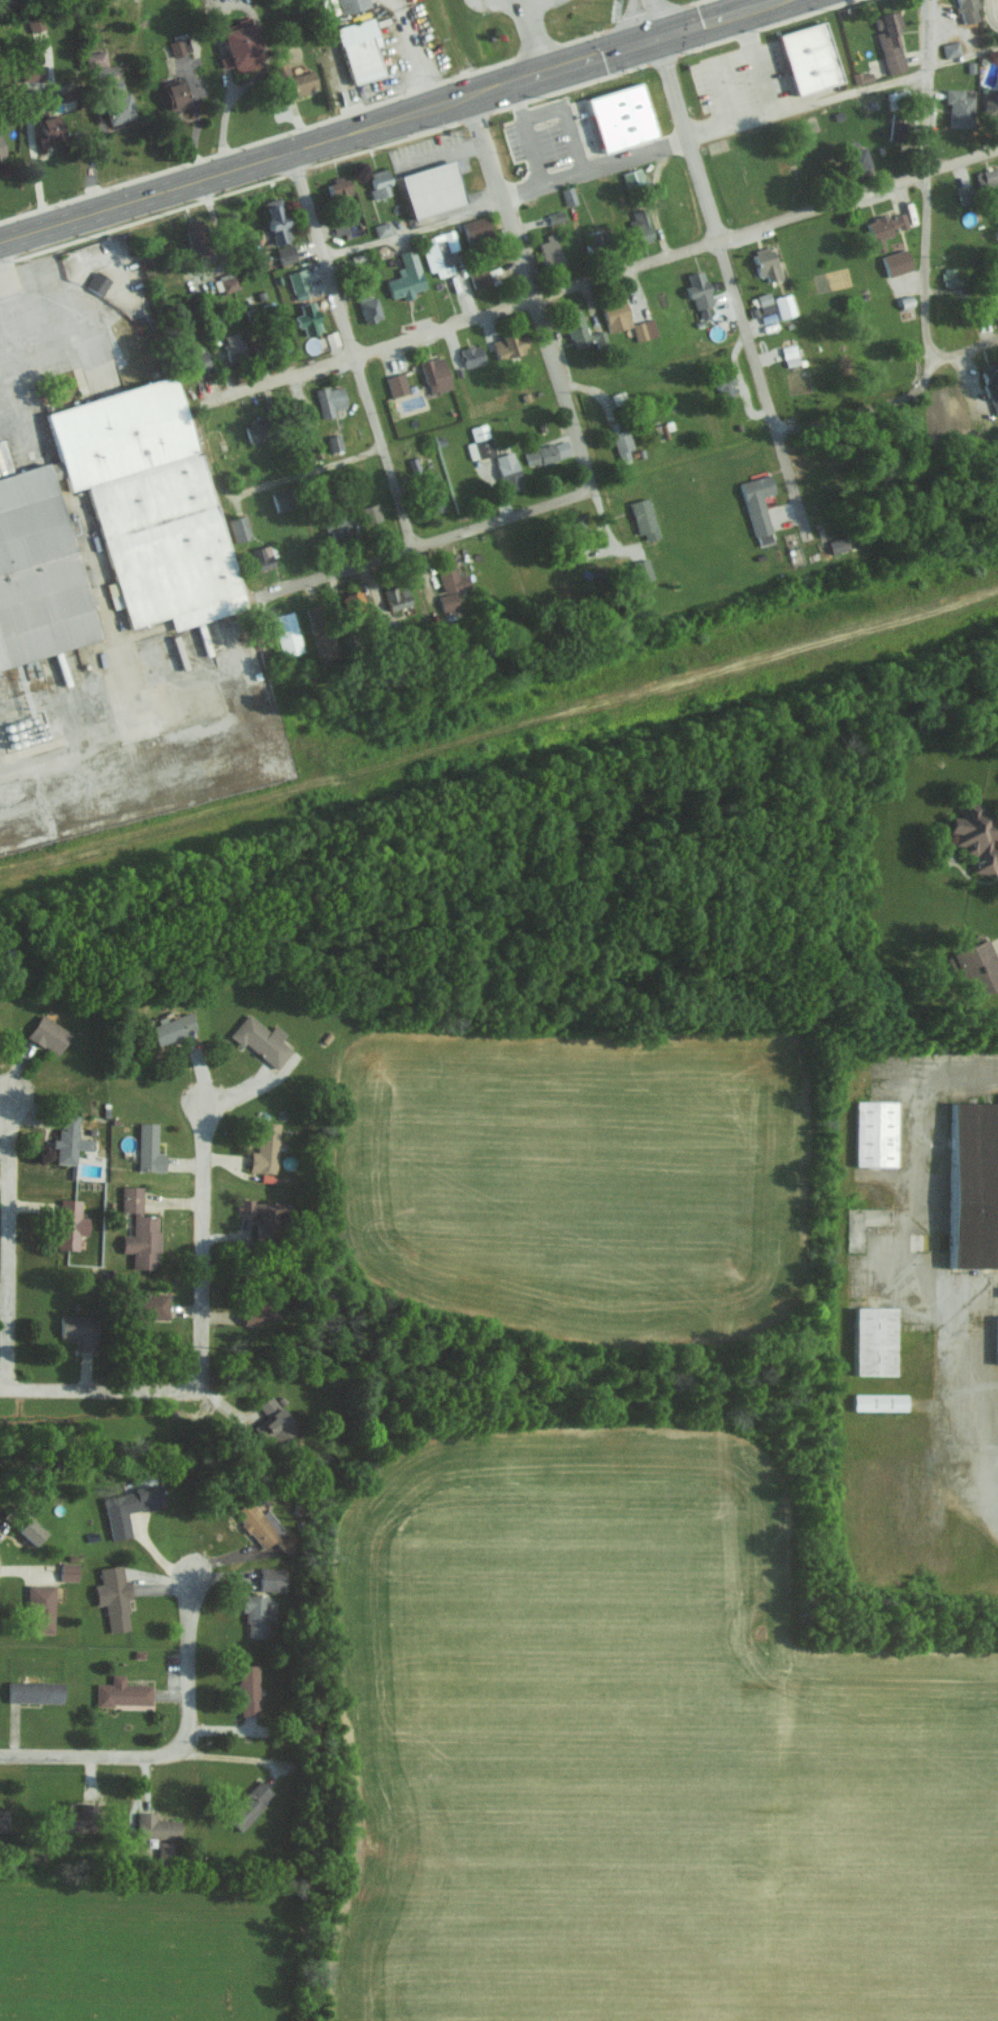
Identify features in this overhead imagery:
road: (523, 1)
building: (351, 5)
building: (968, 10)
road: (648, 19)
building: (34, 23)
road: (530, 36)
traffic signals: (656, 38)
building: (890, 41)
building: (239, 45)
building: (178, 46)
building: (950, 48)
building: (360, 50)
road: (415, 54)
building: (810, 57)
building: (95, 58)
road: (755, 66)
building: (36, 72)
building: (862, 77)
building: (303, 82)
building: (176, 93)
building: (897, 97)
building: (959, 106)
building: (991, 106)
building: (118, 109)
building: (622, 117)
road: (392, 122)
building: (897, 127)
building: (49, 131)
road: (686, 138)
building: (1, 153)
building: (856, 154)
road: (626, 162)
building: (986, 177)
building: (633, 179)
road: (927, 179)
building: (379, 183)
building: (338, 188)
building: (433, 189)
building: (965, 194)
building: (567, 195)
road: (501, 198)
building: (554, 216)
building: (277, 220)
building: (640, 226)
building: (475, 227)
building: (339, 228)
building: (381, 228)
building: (883, 229)
building: (196, 236)
building: (596, 240)
building: (549, 251)
building: (439, 252)
building: (285, 254)
building: (895, 262)
building: (766, 263)
building: (406, 276)
road: (604, 276)
building: (479, 277)
building: (949, 277)
building: (298, 281)
building: (97, 282)
building: (699, 290)
building: (783, 305)
building: (369, 308)
building: (616, 315)
building: (308, 318)
building: (643, 329)
road: (750, 344)
building: (511, 345)
building: (234, 346)
road: (352, 350)
building: (472, 355)
building: (789, 355)
building: (198, 359)
building: (435, 374)
building: (396, 385)
building: (991, 385)
building: (726, 386)
road: (563, 393)
road: (902, 394)
building: (618, 397)
building: (330, 400)
building: (257, 431)
building: (334, 442)
building: (479, 442)
building: (622, 443)
building: (546, 452)
building: (508, 471)
road: (789, 483)
road: (260, 487)
building: (282, 500)
building: (150, 504)
building: (757, 506)
road: (354, 511)
building: (370, 513)
building: (644, 518)
building: (337, 525)
building: (579, 525)
building: (239, 528)
road: (422, 542)
building: (838, 545)
building: (262, 557)
building: (642, 569)
building: (39, 576)
building: (451, 577)
building: (397, 597)
building: (354, 601)
building: (448, 601)
building: (322, 631)
building: (287, 634)
building: (976, 834)
building: (977, 966)
building: (172, 1027)
building: (48, 1034)
building: (261, 1040)
building: (876, 1133)
building: (69, 1139)
building: (148, 1148)
building: (265, 1149)
building: (976, 1185)
building: (262, 1215)
building: (70, 1223)
building: (139, 1230)
road: (6, 1243)
road: (201, 1246)
building: (151, 1305)
building: (257, 1312)
building: (80, 1330)
building: (875, 1340)
road: (95, 1390)
building: (880, 1401)
building: (273, 1421)
building: (128, 1508)
building: (264, 1527)
building: (31, 1531)
building: (68, 1571)
building: (272, 1578)
building: (113, 1597)
building: (41, 1608)
building: (255, 1615)
building: (248, 1689)
building: (35, 1691)
building: (122, 1692)
road: (176, 1748)
building: (249, 1805)
building: (78, 1818)
building: (3, 1820)
building: (155, 1827)
building: (166, 1852)

